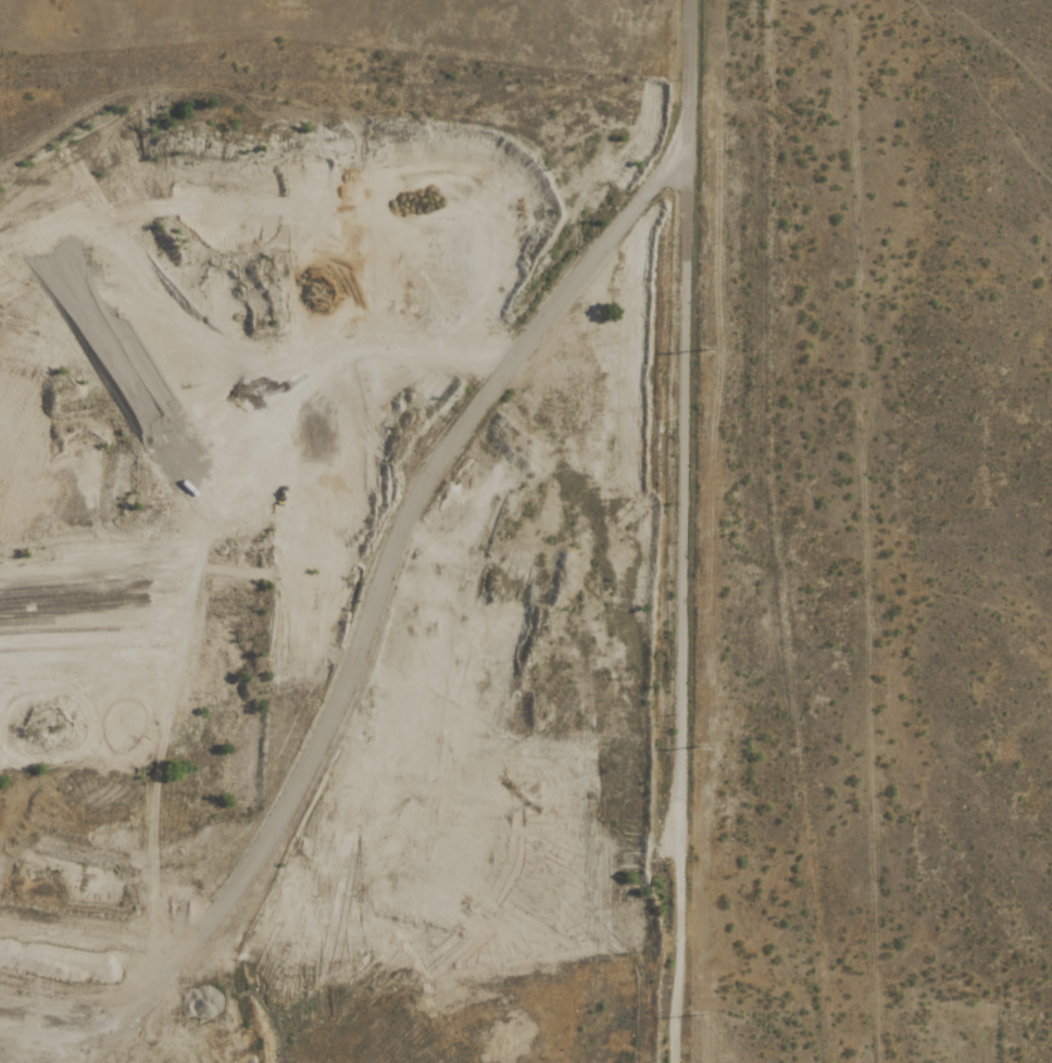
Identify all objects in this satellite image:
road: (682, 126)
power tower: (704, 349)
power tower: (699, 746)

